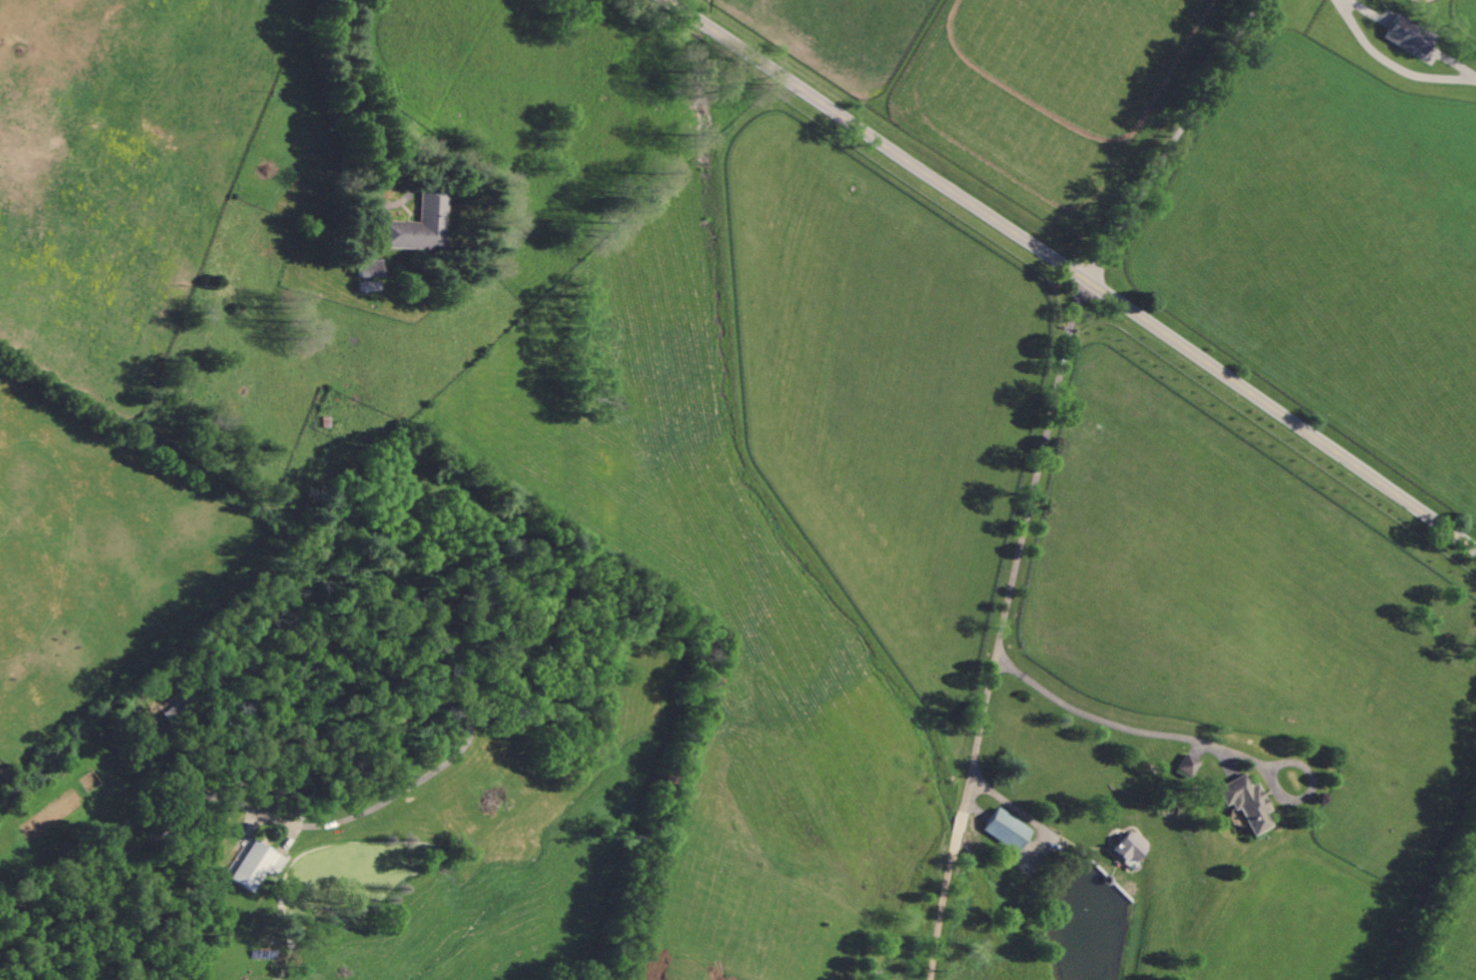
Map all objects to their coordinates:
building: (1409, 37)
road: (1392, 65)
road: (355, 93)
road: (1179, 142)
building: (419, 226)
road: (1074, 272)
road: (1002, 628)
road: (1141, 731)
building: (1188, 764)
building: (1246, 801)
road: (1010, 804)
building: (1008, 829)
road: (142, 842)
building: (1133, 846)
building: (253, 864)

